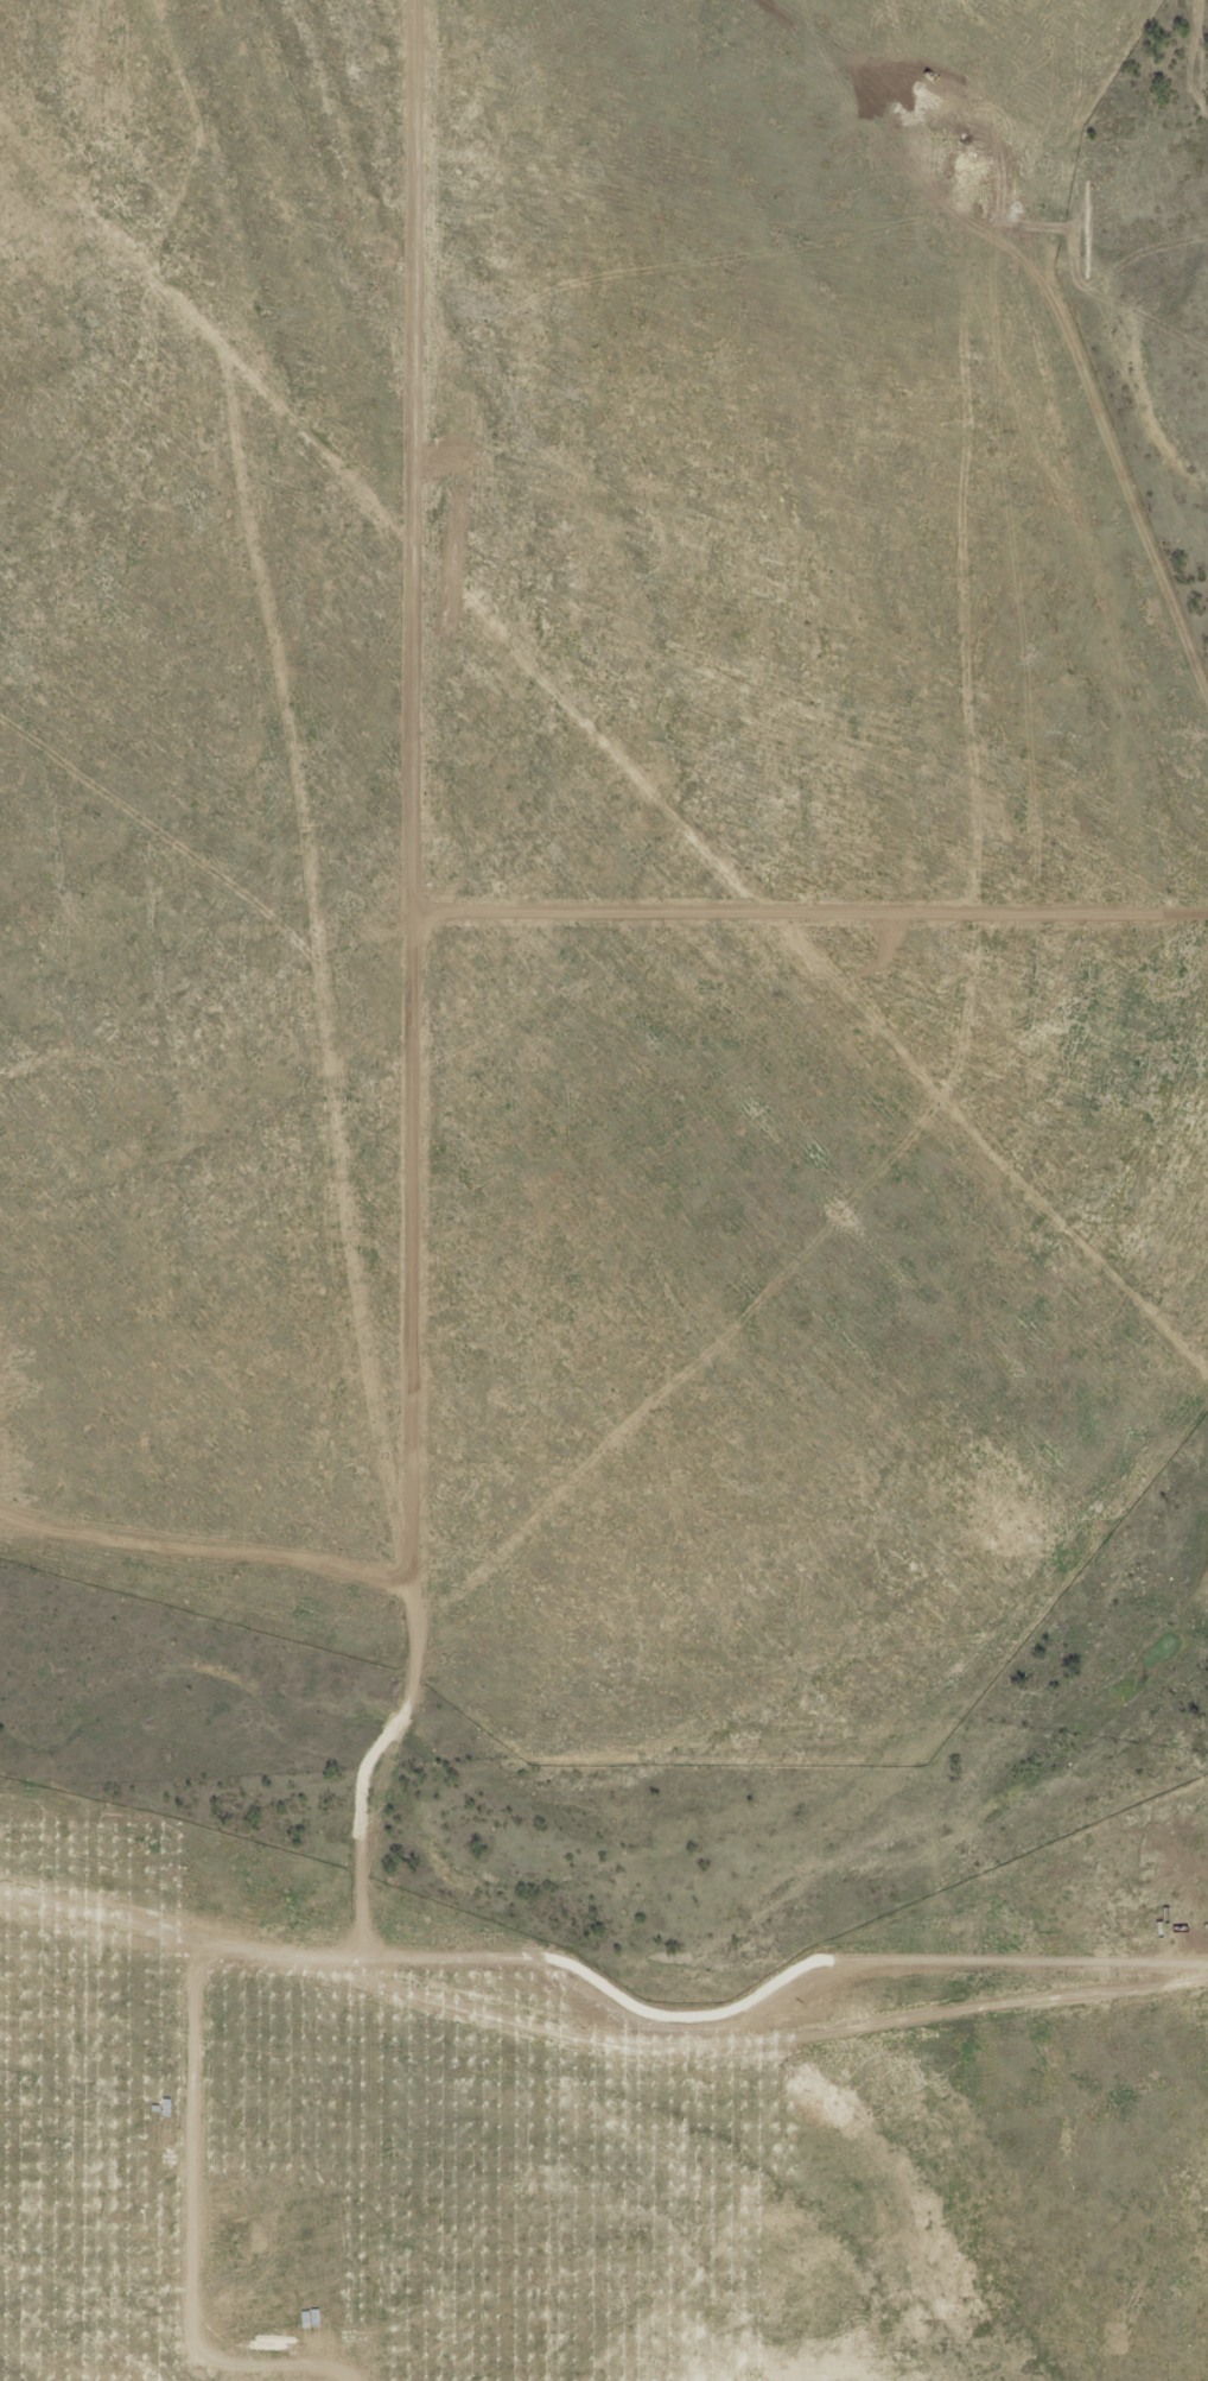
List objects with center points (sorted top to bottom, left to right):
road: (597, 2031)

